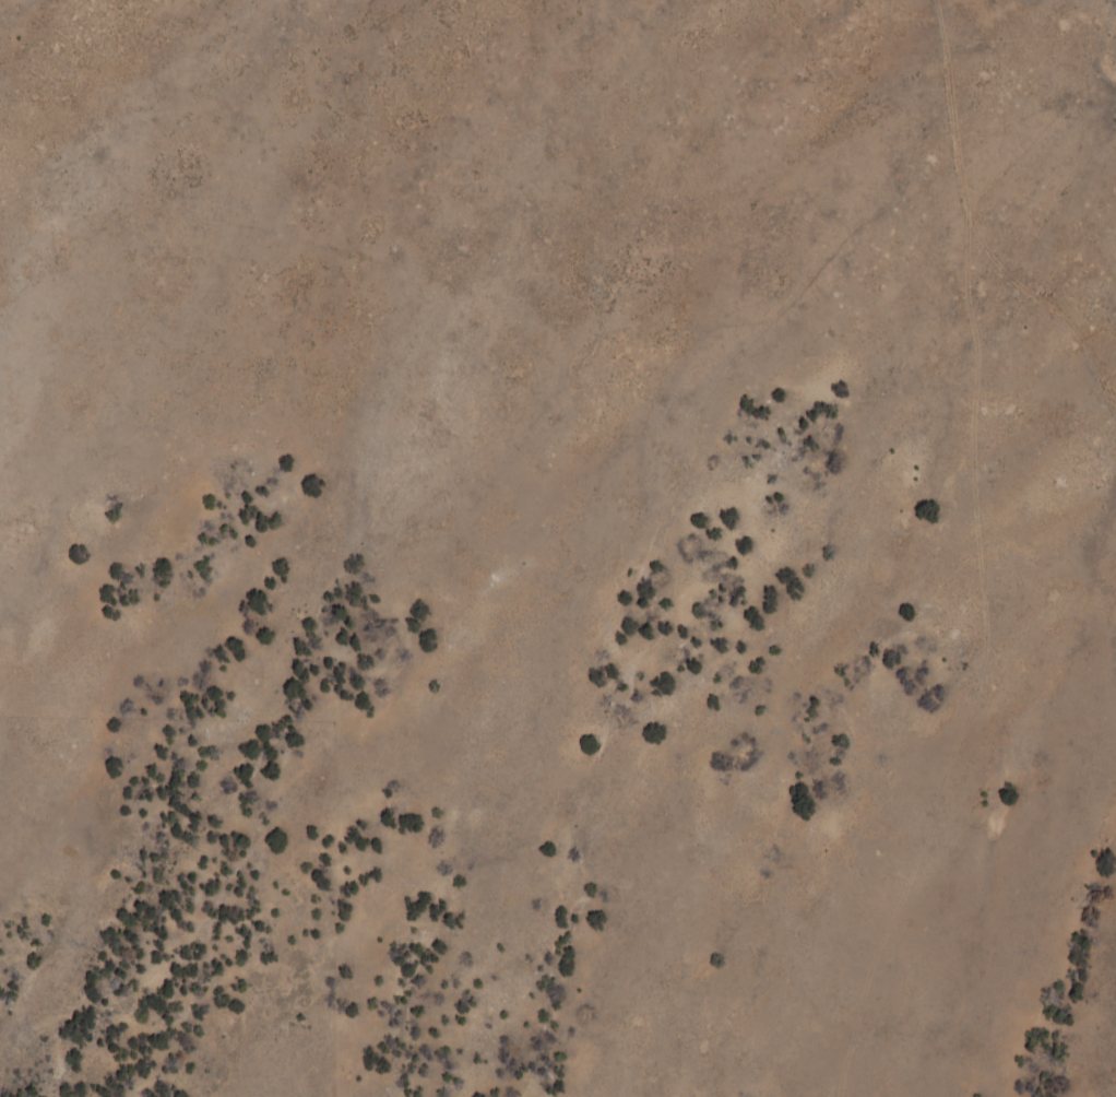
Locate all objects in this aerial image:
road: (963, 563)

